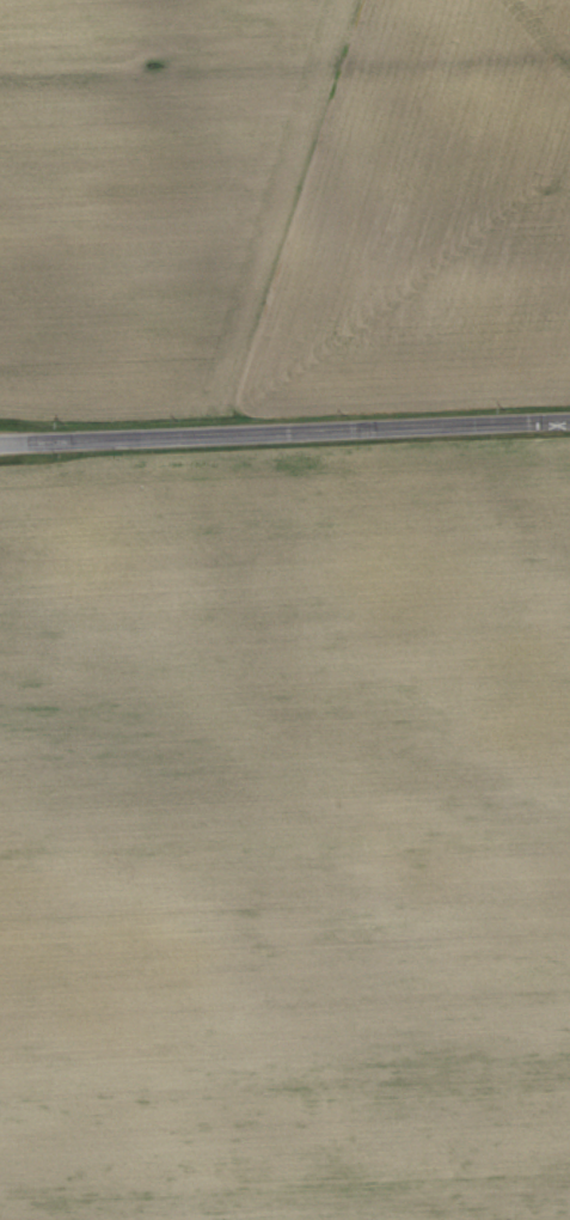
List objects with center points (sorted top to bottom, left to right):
road: (284, 433)
crop: (287, 831)

